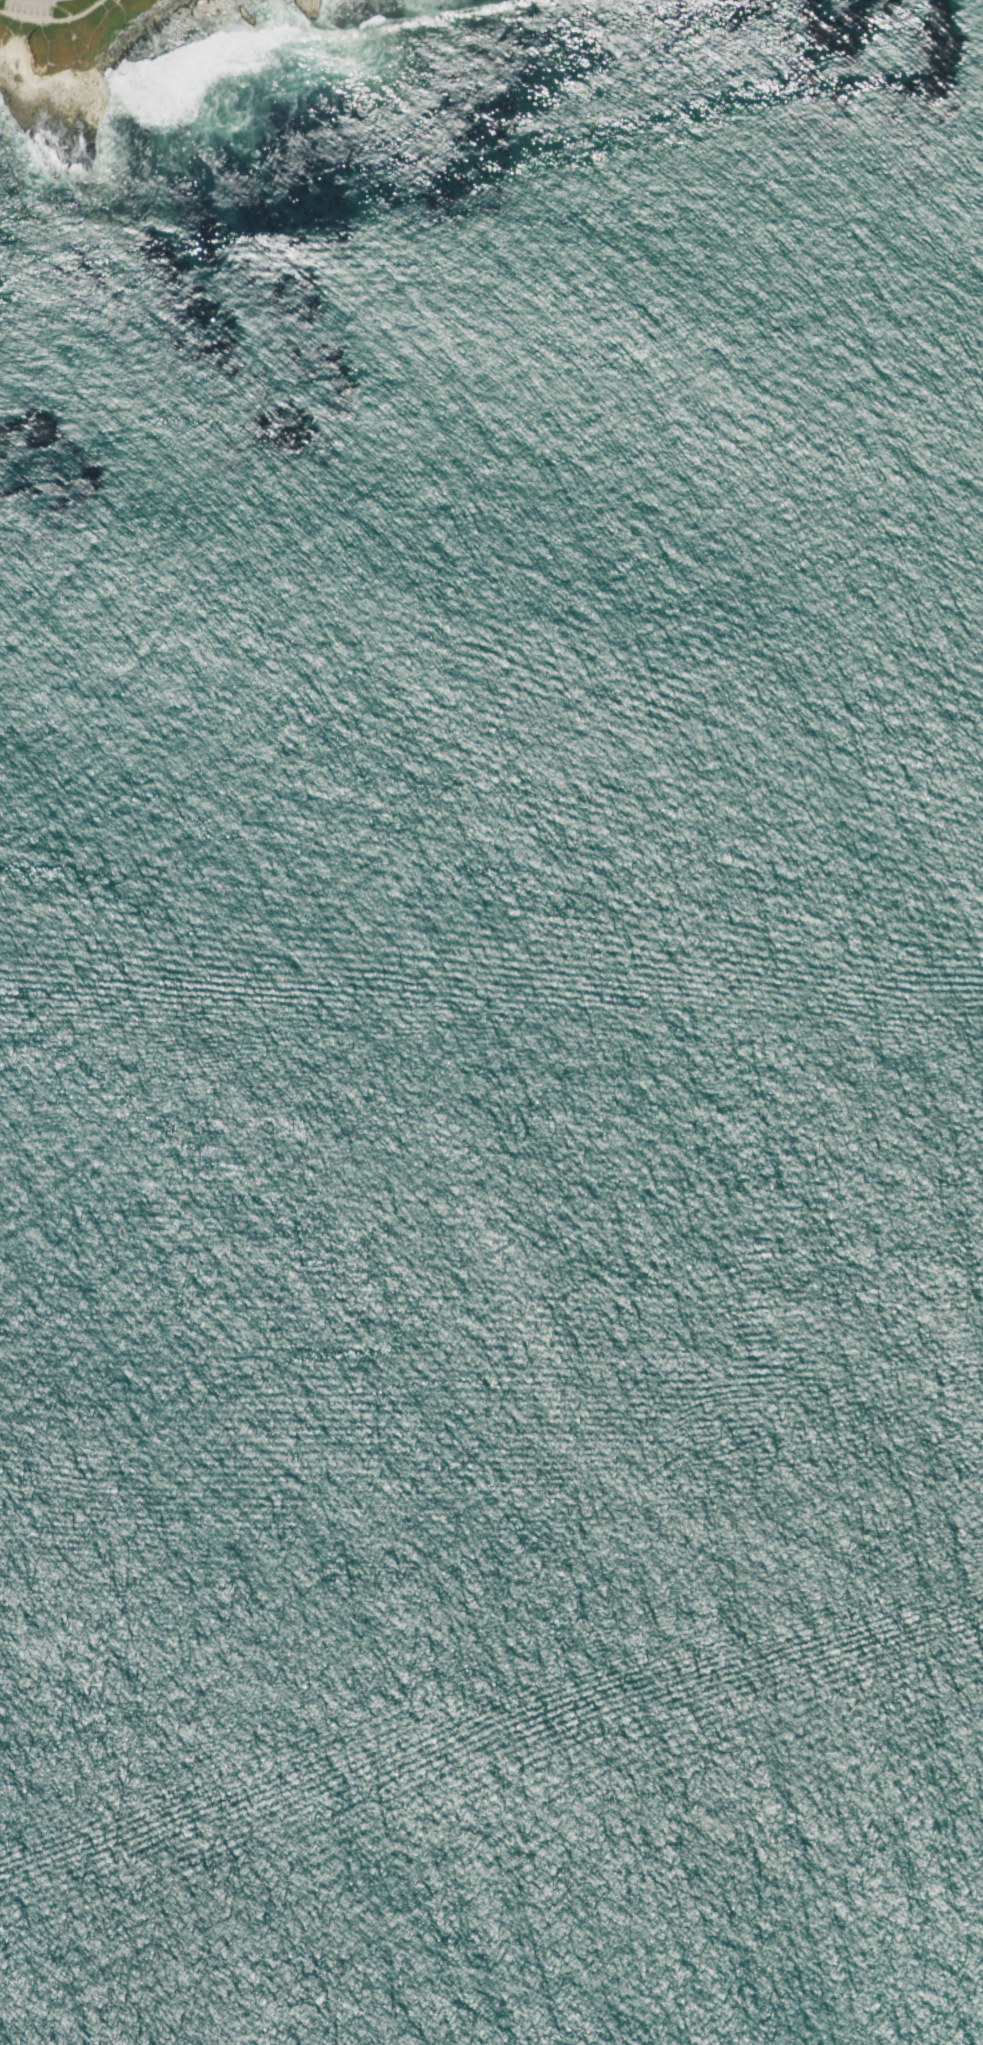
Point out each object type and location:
parking lot: (27, 6)
road: (62, 9)
road: (50, 17)
park: (123, 17)

